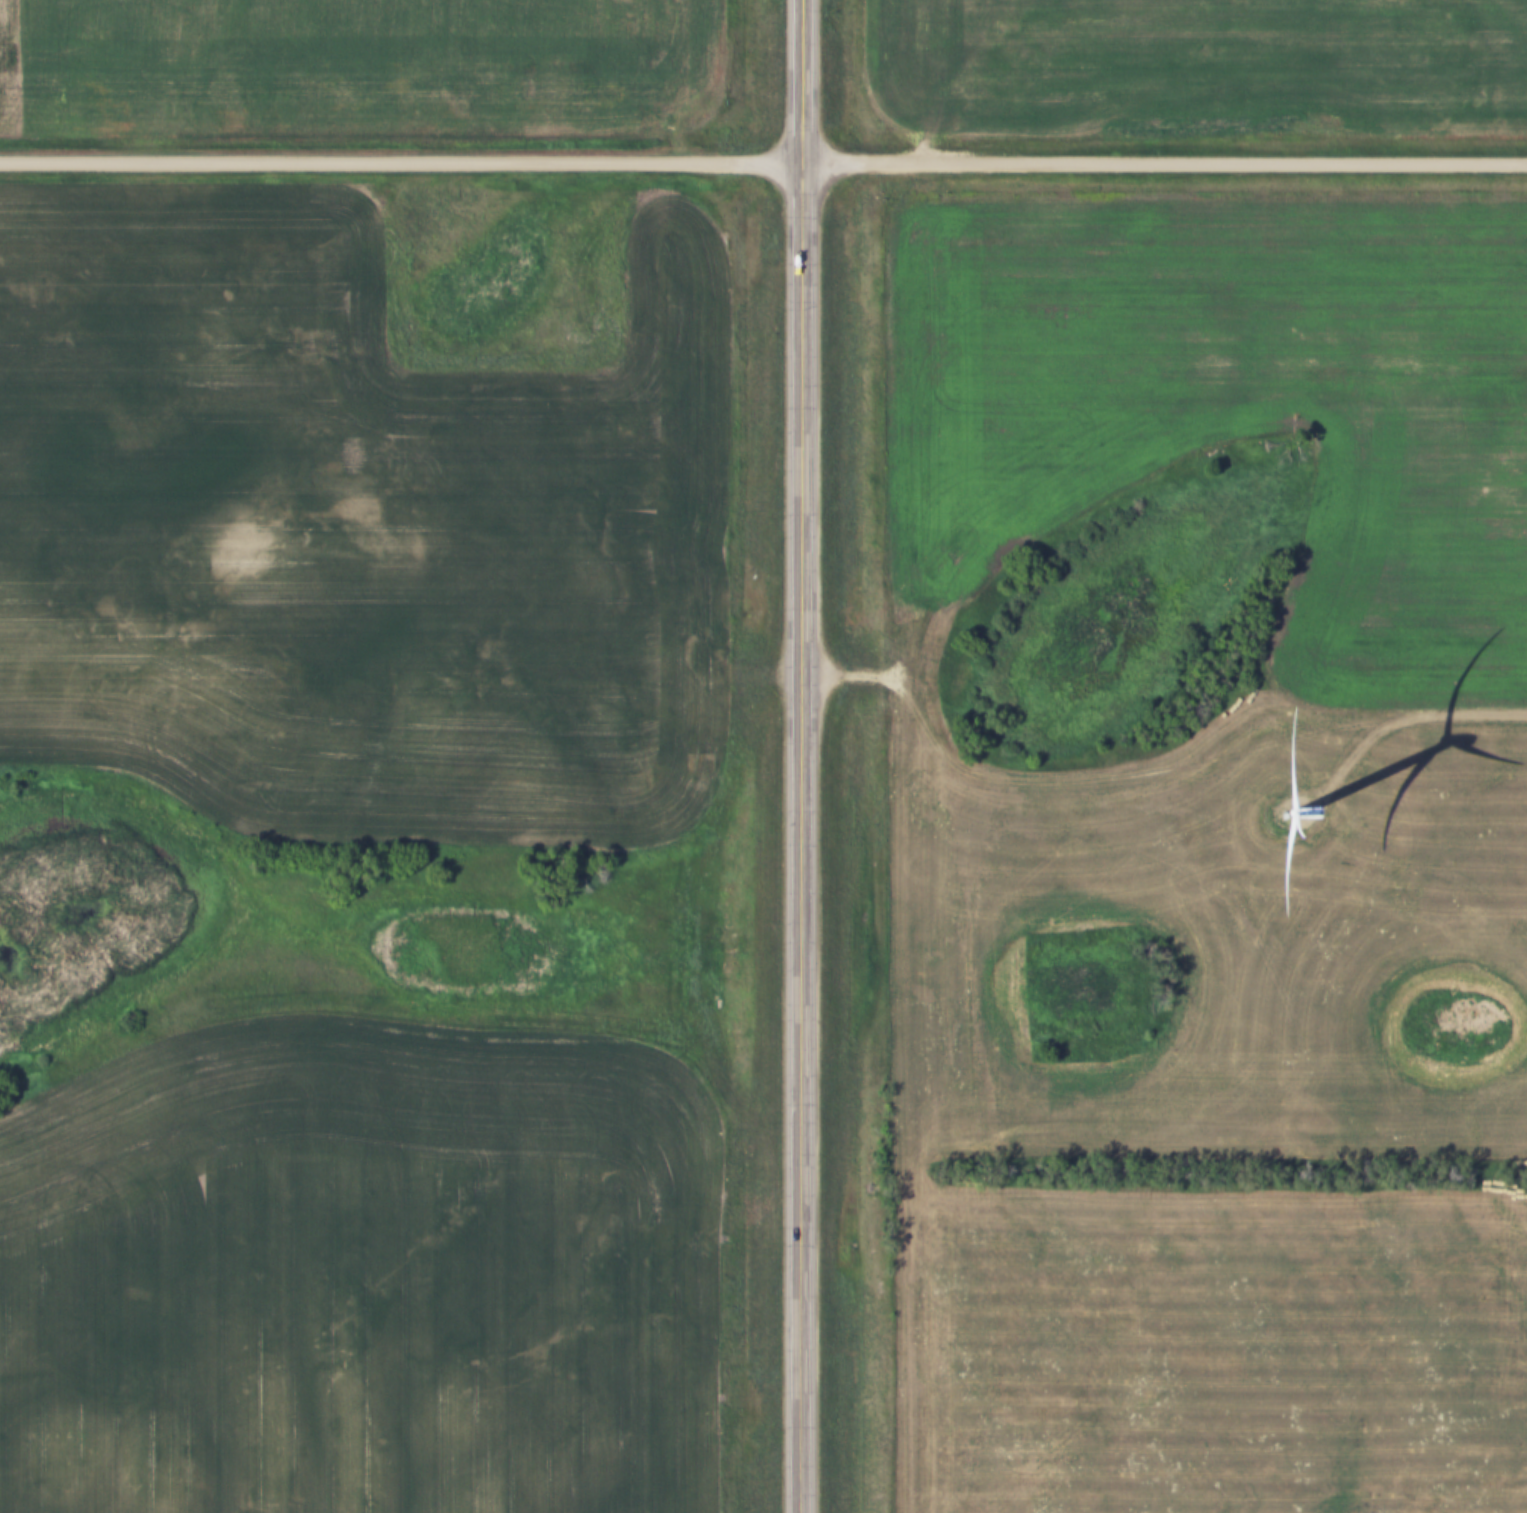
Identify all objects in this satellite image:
road: (804, 79)
road: (763, 157)
wind turbine: (1296, 813)
road: (801, 835)

